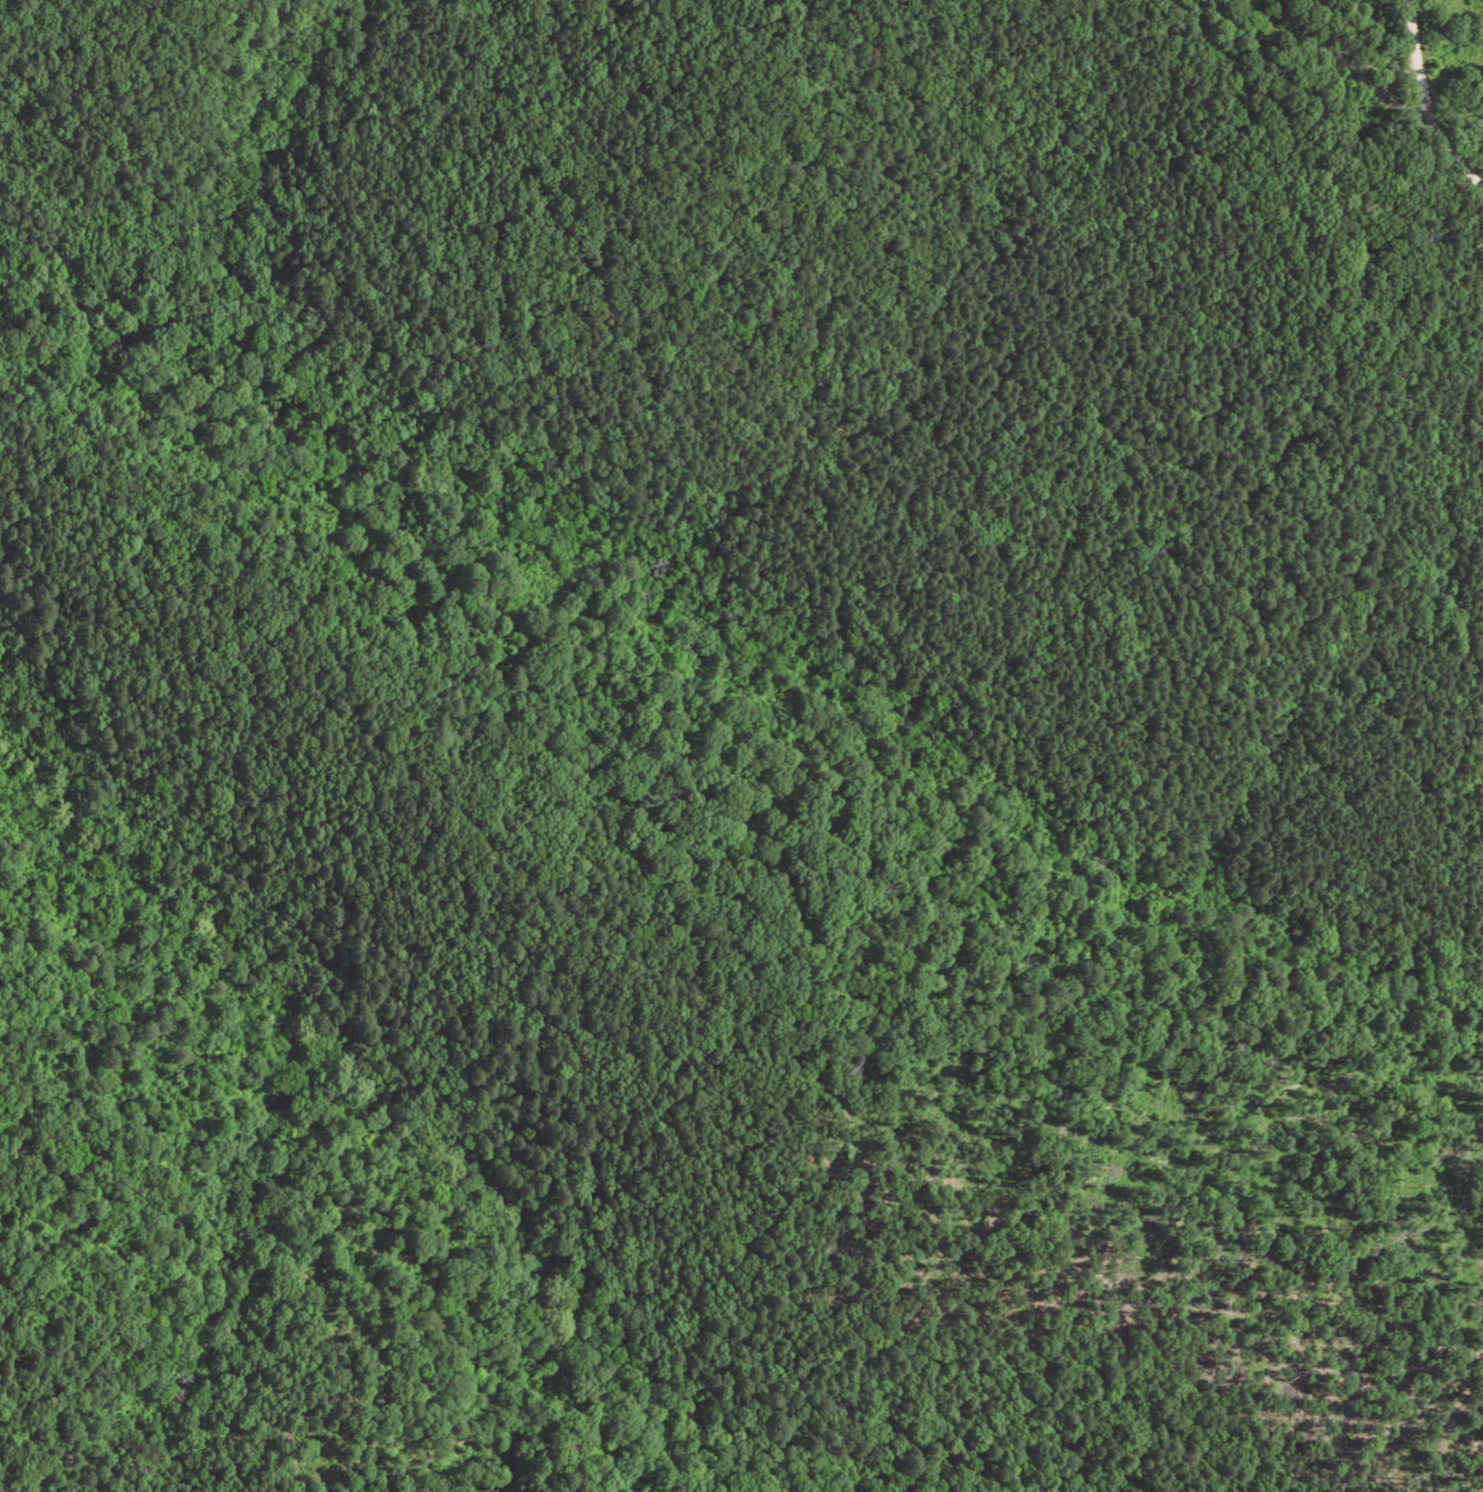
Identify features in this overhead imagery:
road: (1346, 60)
road: (1425, 104)

